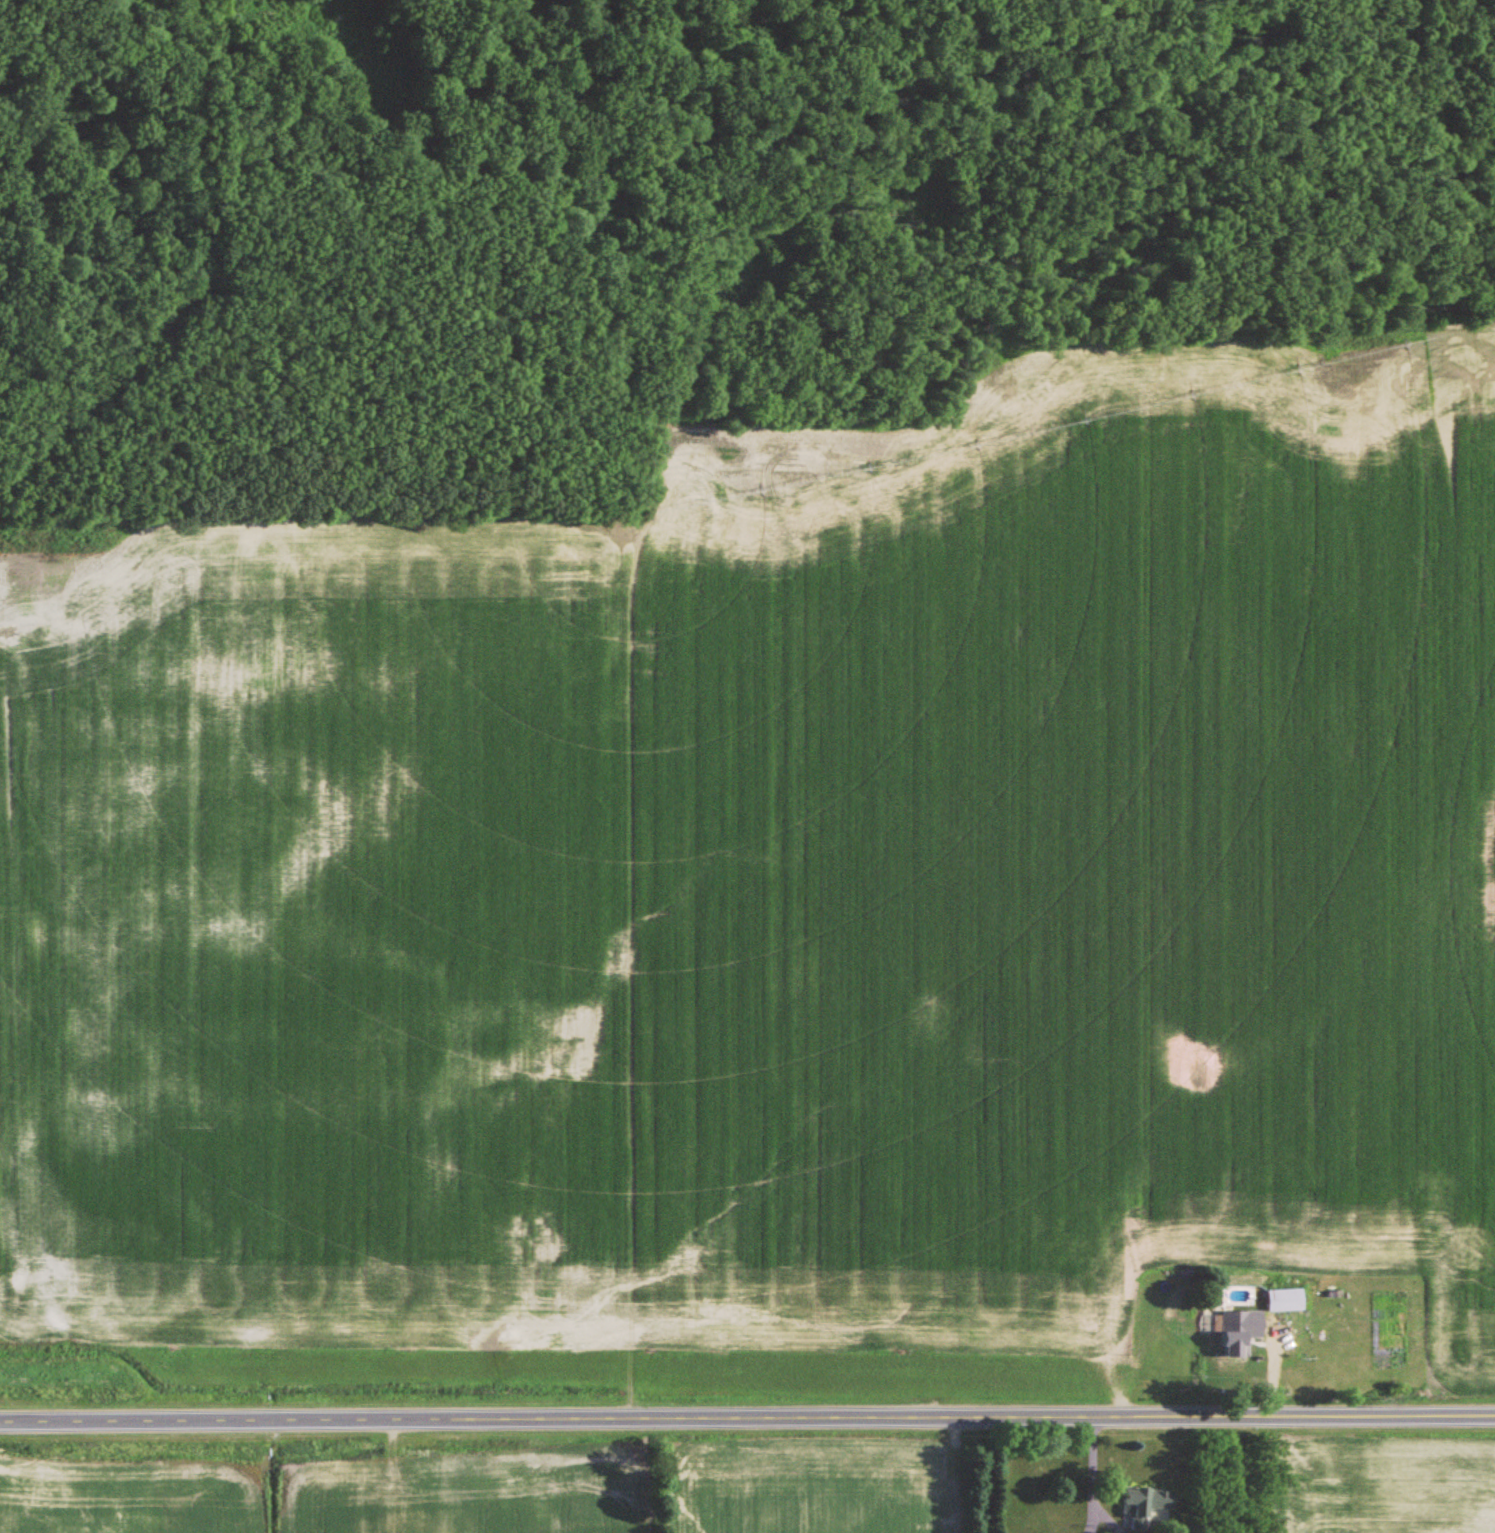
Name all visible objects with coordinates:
building: (1281, 1301)
building: (1230, 1347)
road: (747, 1418)
building: (1140, 1508)

